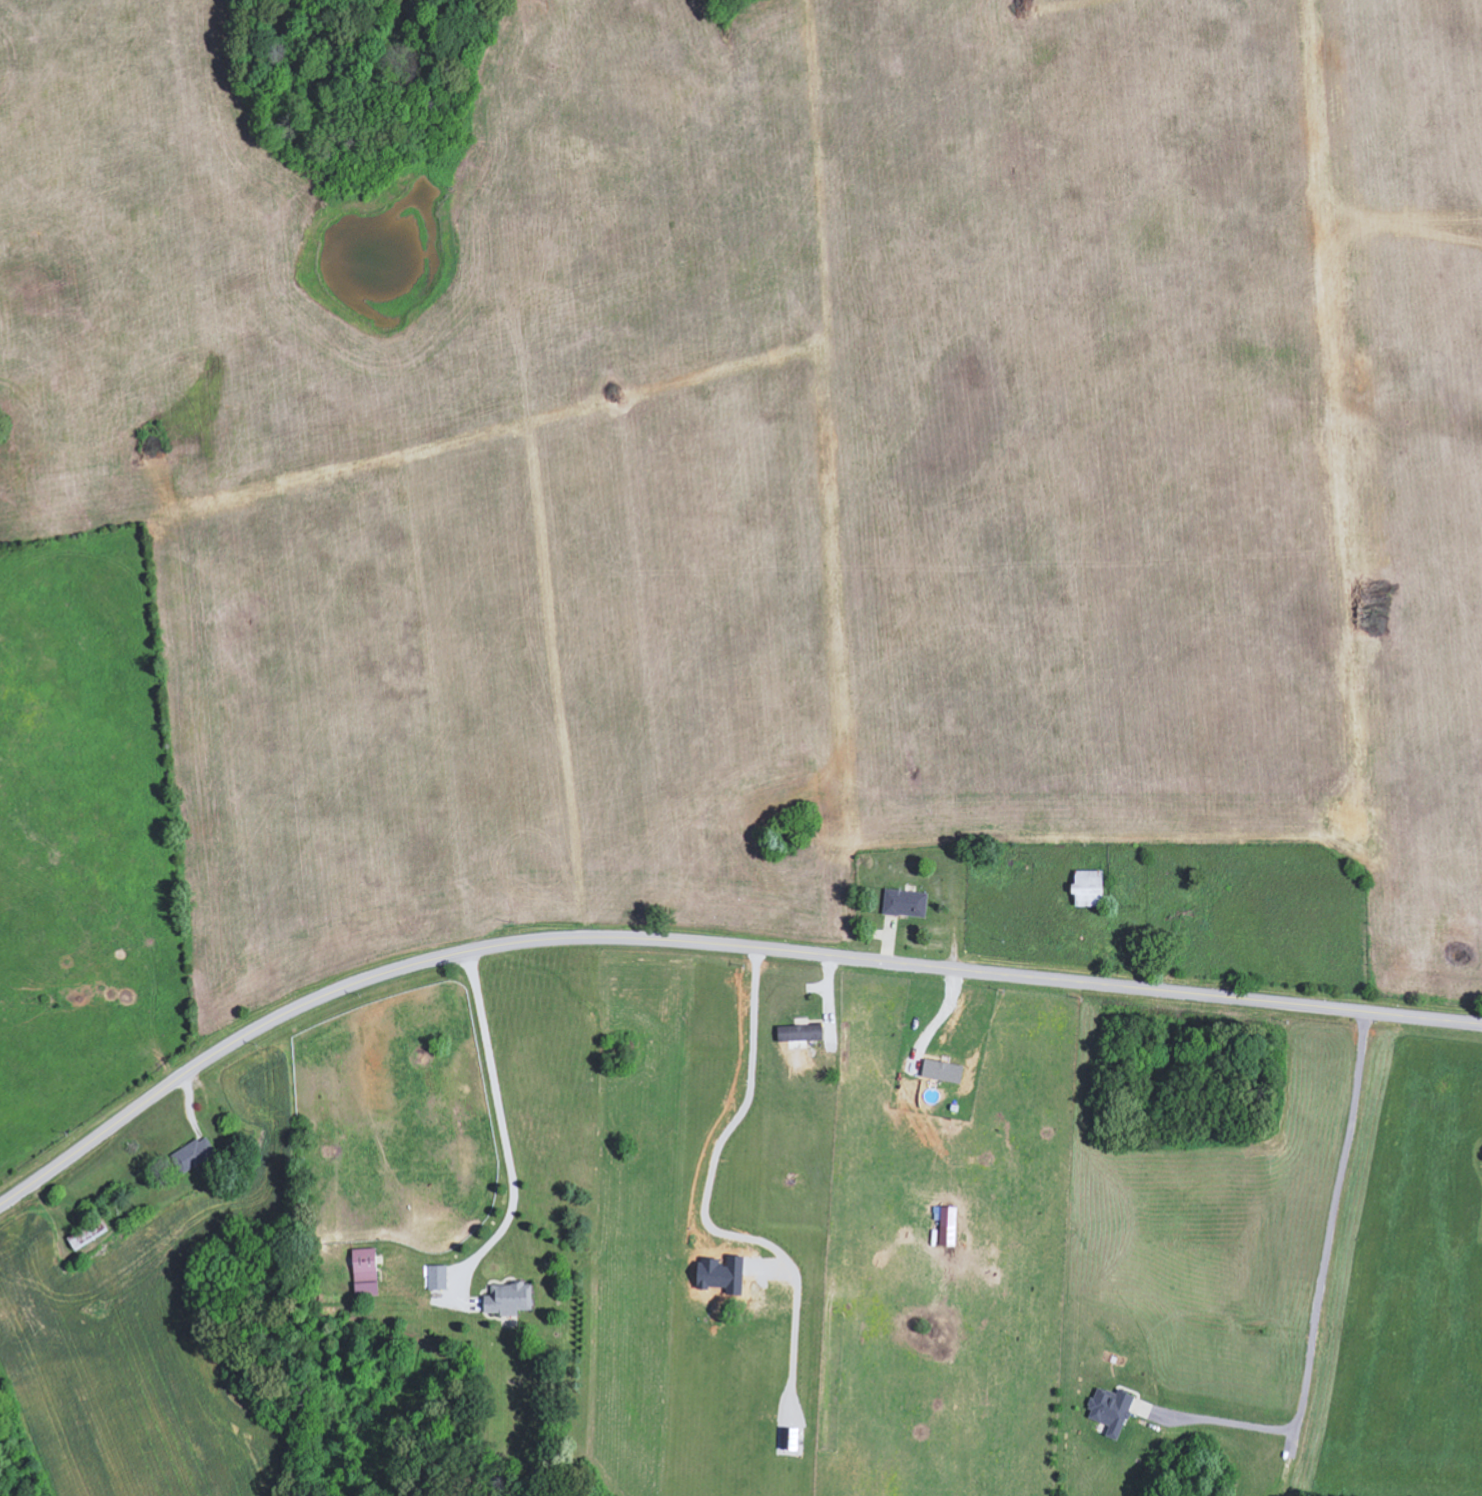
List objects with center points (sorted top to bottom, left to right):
building: (1090, 888)
building: (905, 903)
road: (708, 946)
building: (801, 1033)
road: (743, 1112)
road: (504, 1138)
building: (194, 1154)
building: (947, 1224)
building: (87, 1234)
building: (366, 1272)
building: (438, 1277)
road: (1319, 1292)
building: (509, 1299)
building: (1111, 1411)

